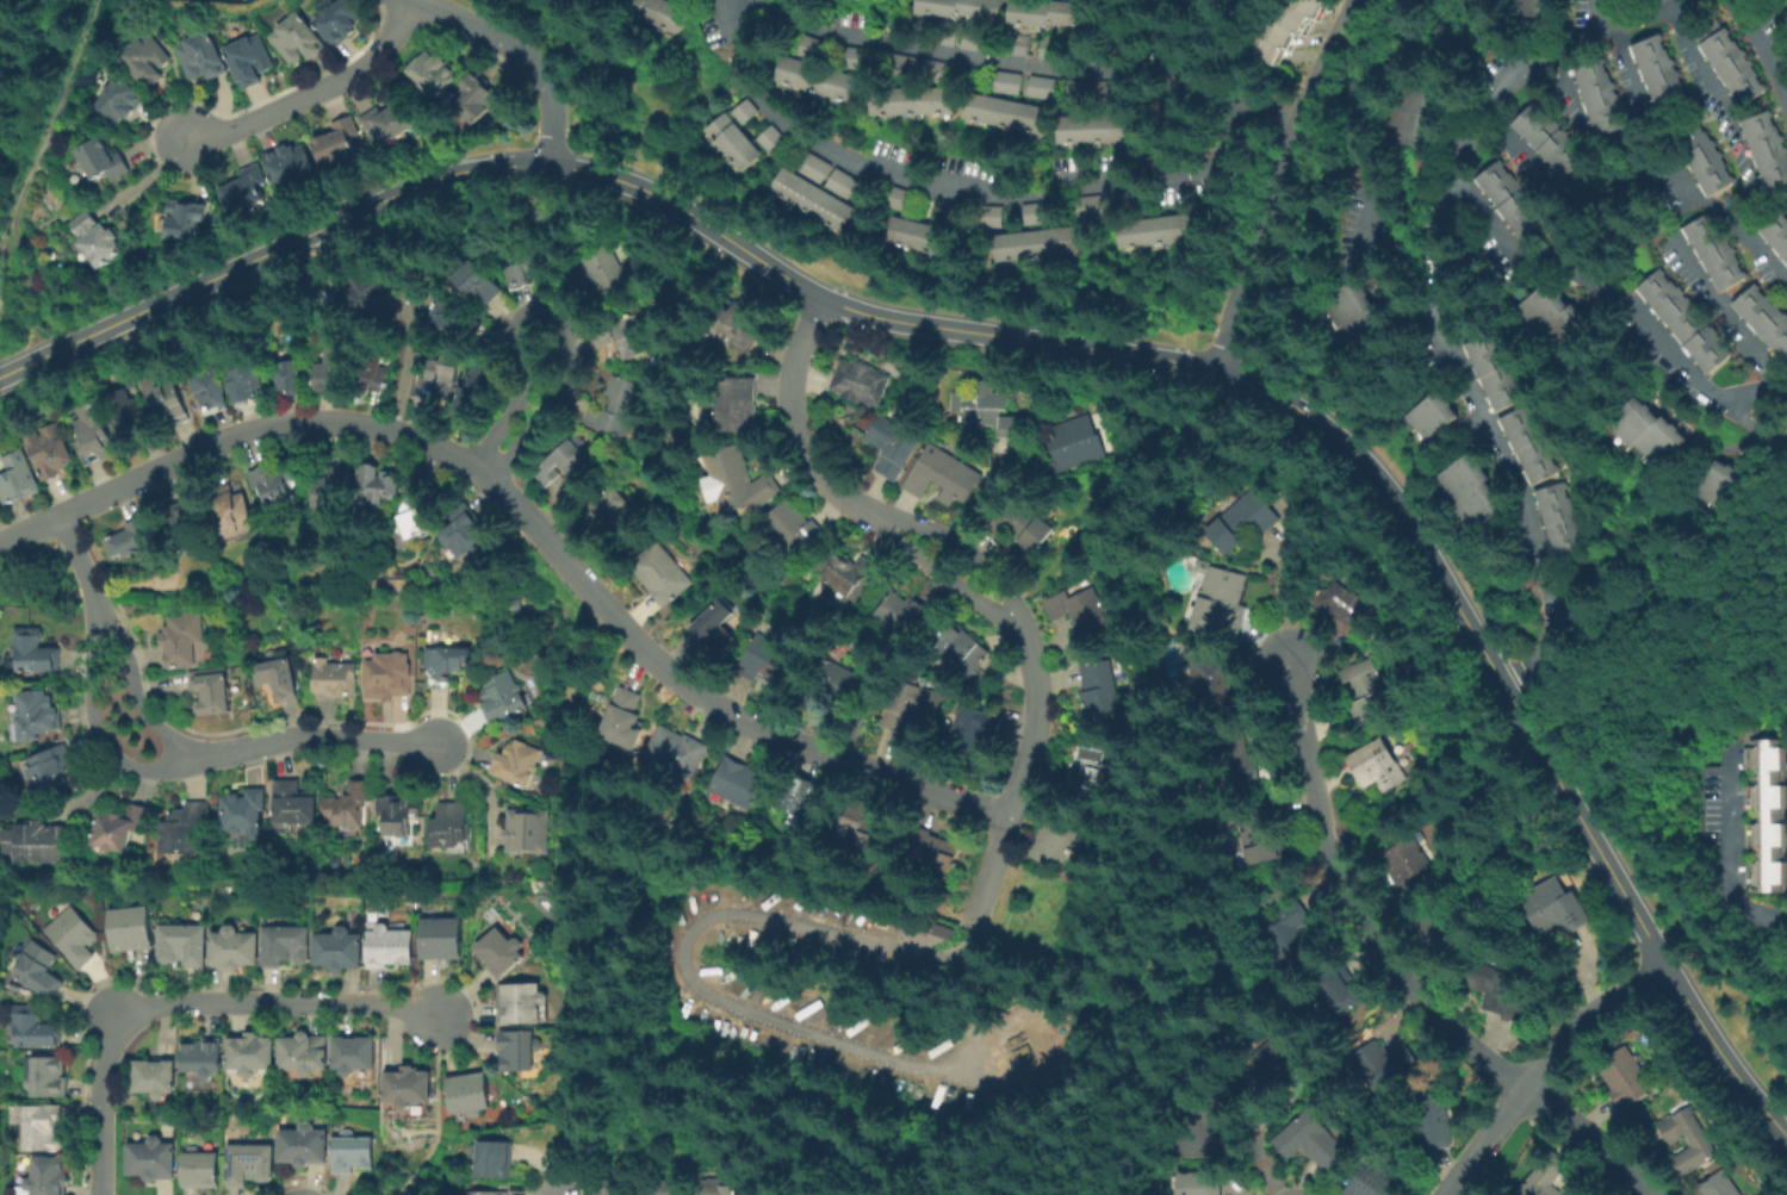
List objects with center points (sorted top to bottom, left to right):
road: (414, 0)
building: (960, 7)
building: (1524, 8)
building: (653, 12)
building: (1044, 12)
building: (340, 19)
building: (1292, 29)
building: (298, 37)
building: (1017, 44)
road: (1757, 45)
building: (808, 46)
road: (1222, 51)
road: (521, 54)
building: (204, 55)
building: (148, 57)
building: (250, 58)
building: (1726, 60)
road: (1028, 67)
building: (436, 71)
building: (1657, 74)
road: (1708, 75)
building: (817, 79)
building: (1006, 81)
road: (1563, 81)
building: (1040, 86)
road: (315, 94)
building: (478, 95)
building: (1596, 95)
building: (120, 100)
building: (911, 100)
building: (1001, 112)
building: (392, 119)
building: (1402, 122)
building: (1092, 129)
building: (740, 133)
building: (1544, 137)
building: (341, 141)
road: (1513, 143)
building: (1766, 149)
building: (1700, 157)
building: (105, 158)
building: (291, 162)
building: (813, 166)
road: (1670, 169)
road: (30, 175)
building: (840, 182)
road: (1279, 183)
road: (113, 186)
building: (247, 188)
road: (960, 193)
building: (1506, 198)
building: (812, 199)
building: (1088, 205)
building: (1035, 212)
building: (991, 214)
building: (188, 217)
building: (1156, 230)
building: (912, 234)
building: (1775, 236)
building: (100, 237)
building: (1035, 242)
building: (1713, 253)
building: (526, 264)
building: (613, 270)
road: (1700, 278)
building: (474, 279)
building: (364, 294)
road: (1434, 298)
road: (1615, 304)
road: (552, 313)
building: (457, 316)
building: (1346, 317)
building: (1551, 317)
building: (1762, 320)
building: (1682, 322)
building: (738, 324)
building: (625, 336)
road: (1073, 346)
road: (17, 366)
building: (331, 371)
building: (1489, 373)
building: (374, 374)
building: (290, 375)
building: (438, 379)
building: (863, 381)
building: (247, 384)
building: (212, 391)
building: (476, 391)
building: (167, 399)
building: (738, 404)
building: (619, 406)
building: (986, 406)
building: (863, 409)
building: (128, 410)
building: (1423, 417)
road: (796, 425)
building: (1642, 434)
building: (94, 435)
building: (1078, 442)
building: (895, 446)
building: (1525, 447)
building: (50, 450)
building: (575, 462)
road: (1018, 466)
building: (944, 475)
building: (19, 478)
building: (742, 480)
building: (378, 483)
building: (274, 484)
building: (331, 485)
building: (1714, 486)
road: (984, 493)
building: (1463, 493)
building: (234, 511)
building: (615, 512)
road: (526, 519)
building: (418, 522)
building: (1237, 523)
building: (1556, 523)
building: (1023, 524)
building: (186, 527)
building: (795, 528)
building: (467, 536)
building: (131, 537)
road: (963, 546)
road: (557, 564)
road: (81, 567)
building: (663, 572)
building: (850, 572)
road: (939, 574)
road: (300, 587)
road: (38, 590)
building: (519, 604)
building: (1216, 604)
building: (1335, 604)
building: (1078, 611)
building: (896, 612)
building: (713, 625)
building: (186, 640)
building: (961, 645)
building: (36, 651)
building: (774, 660)
building: (446, 664)
building: (390, 676)
building: (281, 678)
building: (336, 678)
building: (1209, 683)
building: (833, 684)
building: (1102, 687)
road: (134, 690)
building: (213, 690)
building: (1360, 692)
road: (572, 696)
building: (503, 697)
building: (912, 705)
road: (1671, 712)
building: (37, 714)
building: (628, 720)
road: (93, 728)
building: (973, 729)
road: (309, 736)
building: (681, 752)
building: (519, 763)
building: (1236, 763)
building: (1093, 764)
building: (52, 767)
building: (1370, 767)
road: (1023, 773)
building: (743, 782)
building: (805, 796)
road: (1425, 797)
building: (296, 804)
building: (349, 805)
building: (246, 811)
building: (401, 814)
building: (1766, 814)
building: (453, 826)
building: (123, 828)
building: (186, 829)
building: (868, 829)
building: (529, 832)
building: (1255, 835)
building: (41, 842)
building: (1057, 842)
building: (937, 848)
road: (1730, 851)
road: (771, 855)
road: (1327, 855)
building: (1406, 863)
road: (1348, 897)
building: (1551, 908)
building: (1442, 919)
road: (970, 925)
building: (132, 928)
building: (929, 932)
building: (1280, 933)
building: (74, 936)
building: (442, 939)
building: (185, 945)
building: (287, 946)
building: (391, 947)
building: (235, 948)
building: (341, 950)
building: (501, 953)
road: (681, 958)
road: (1063, 967)
building: (38, 970)
road: (1149, 982)
building: (1330, 987)
building: (15, 988)
building: (1497, 992)
road: (188, 1003)
building: (523, 1004)
road: (620, 1012)
building: (35, 1028)
building: (519, 1051)
building: (253, 1053)
building: (306, 1053)
building: (355, 1054)
building: (204, 1057)
road: (1535, 1064)
building: (1271, 1065)
building: (1378, 1066)
building: (1621, 1077)
building: (49, 1078)
building: (156, 1078)
building: (410, 1087)
building: (471, 1093)
road: (436, 1112)
building: (1427, 1119)
building: (39, 1126)
building: (1196, 1133)
road: (1587, 1135)
building: (1302, 1140)
building: (1698, 1141)
road: (1257, 1143)
building: (306, 1146)
building: (353, 1153)
building: (154, 1160)
building: (495, 1160)
building: (252, 1165)
building: (201, 1169)
building: (1543, 1176)
building: (46, 1177)
building: (1370, 1181)
building: (1193, 1183)
building: (1717, 1184)
building: (620, 1185)
building: (665, 1187)
building: (715, 1188)
building: (1580, 1188)
building: (492, 1193)
building: (831, 1194)

